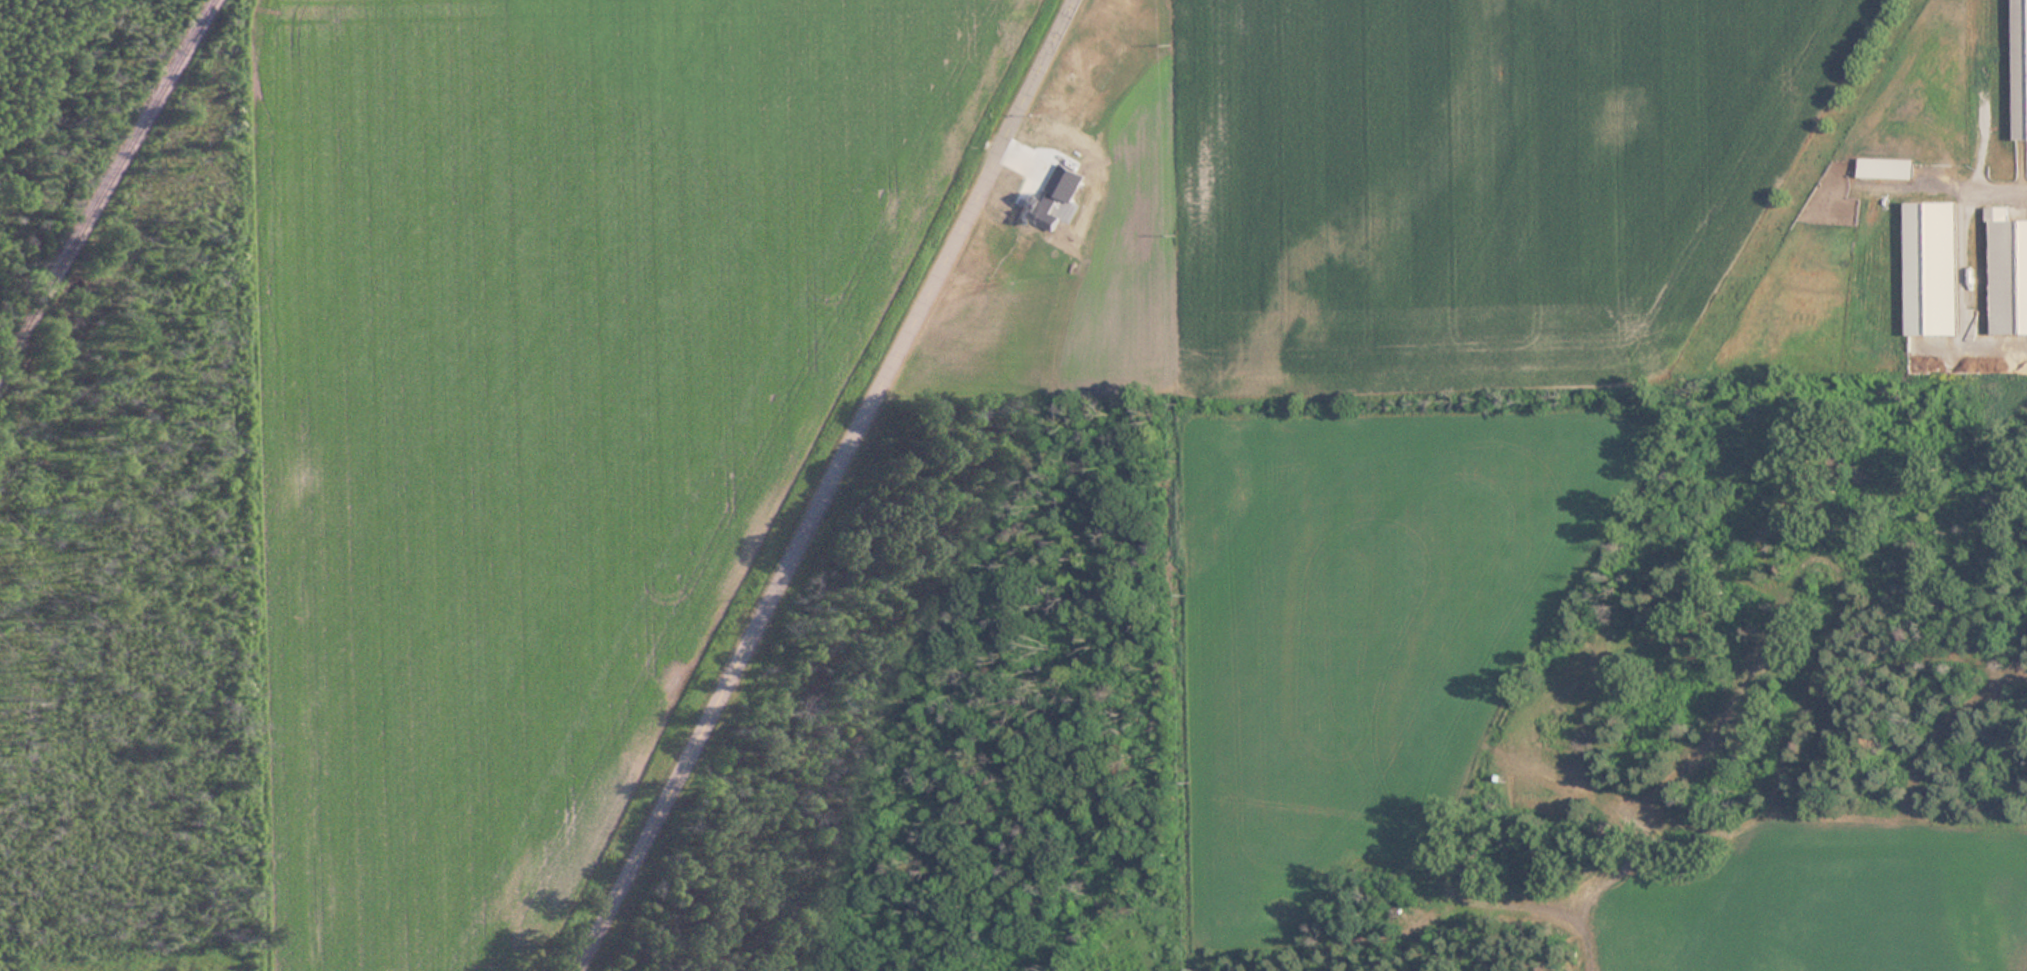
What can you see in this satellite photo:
railway: (106, 183)
building: (1063, 188)
building: (1030, 208)
road: (834, 485)

